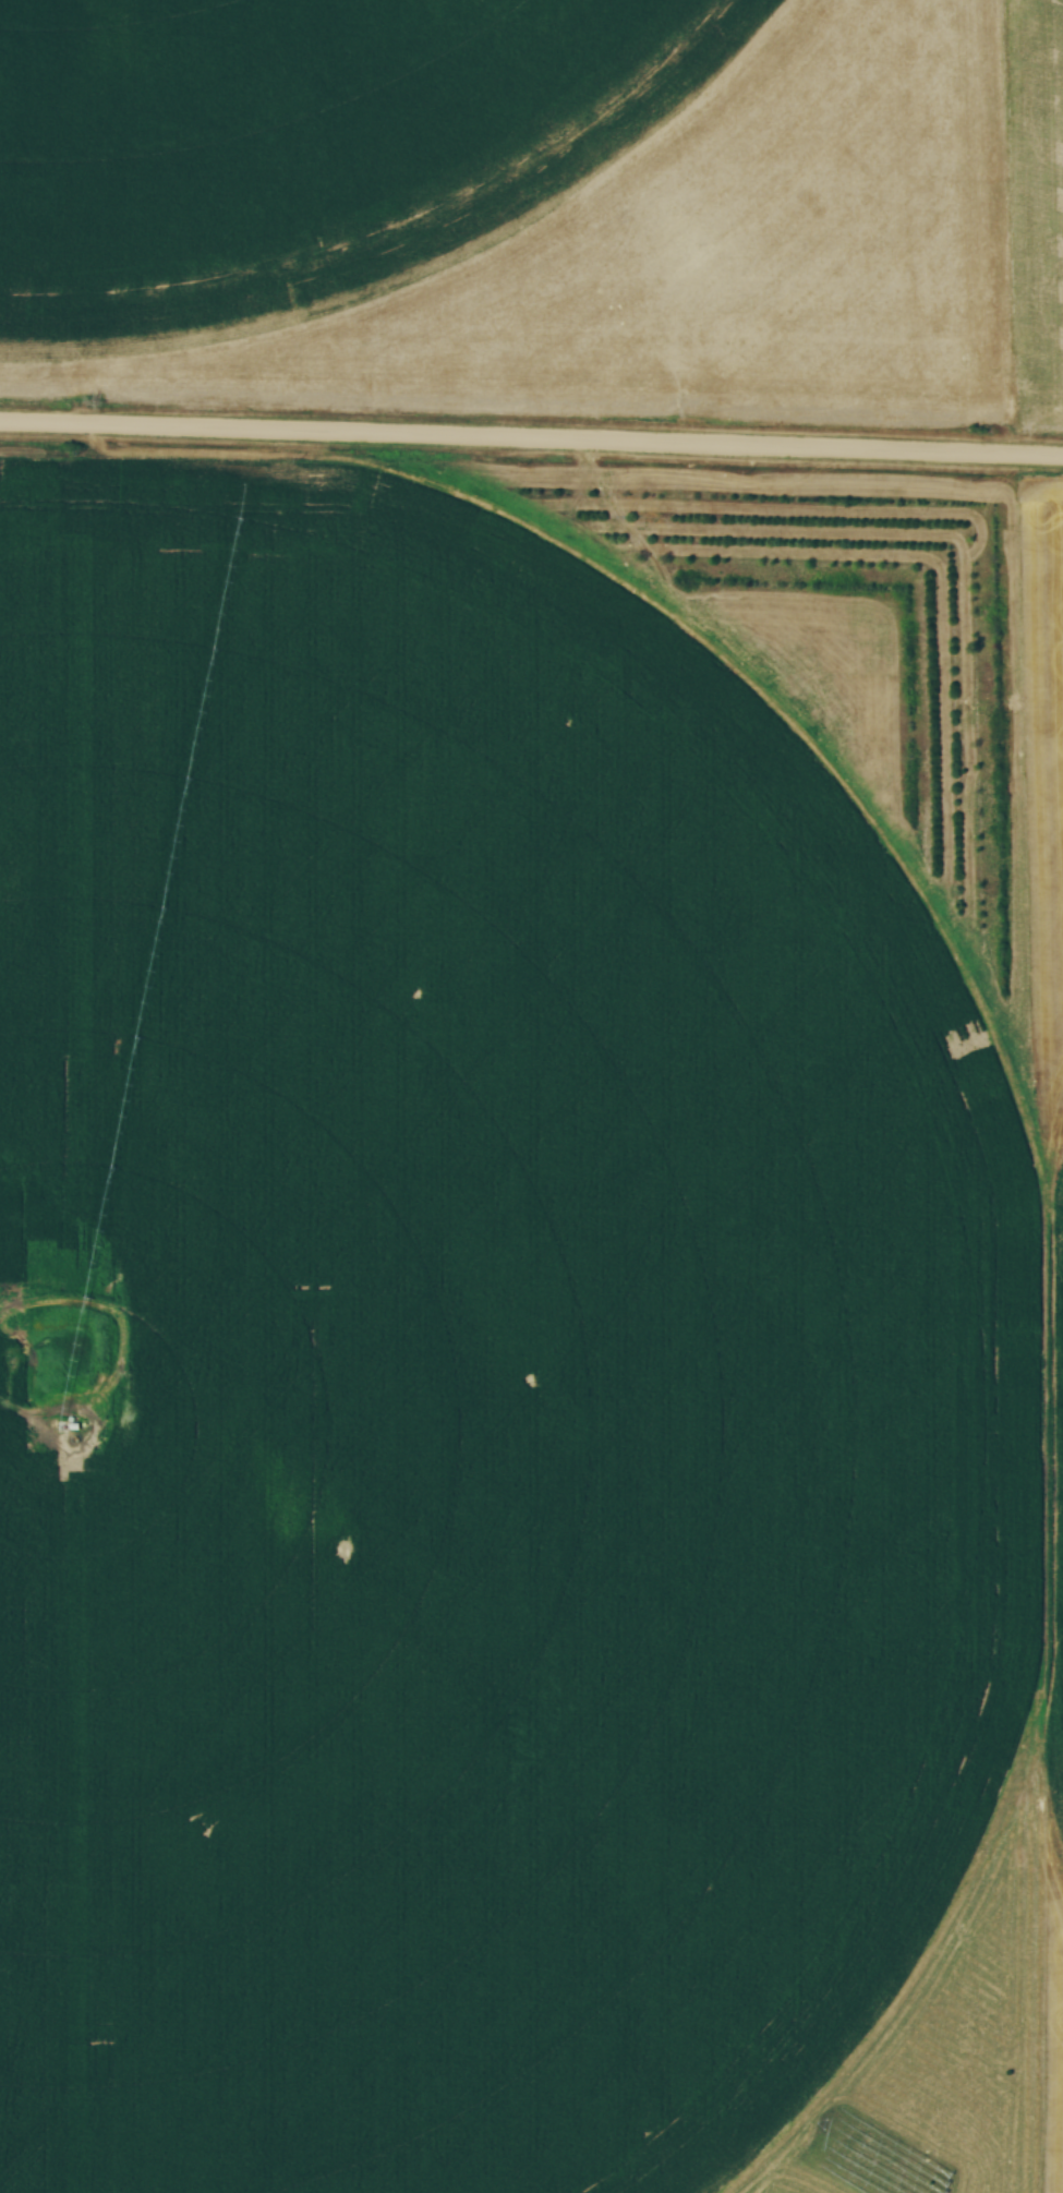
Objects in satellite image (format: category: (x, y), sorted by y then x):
road: (531, 441)

